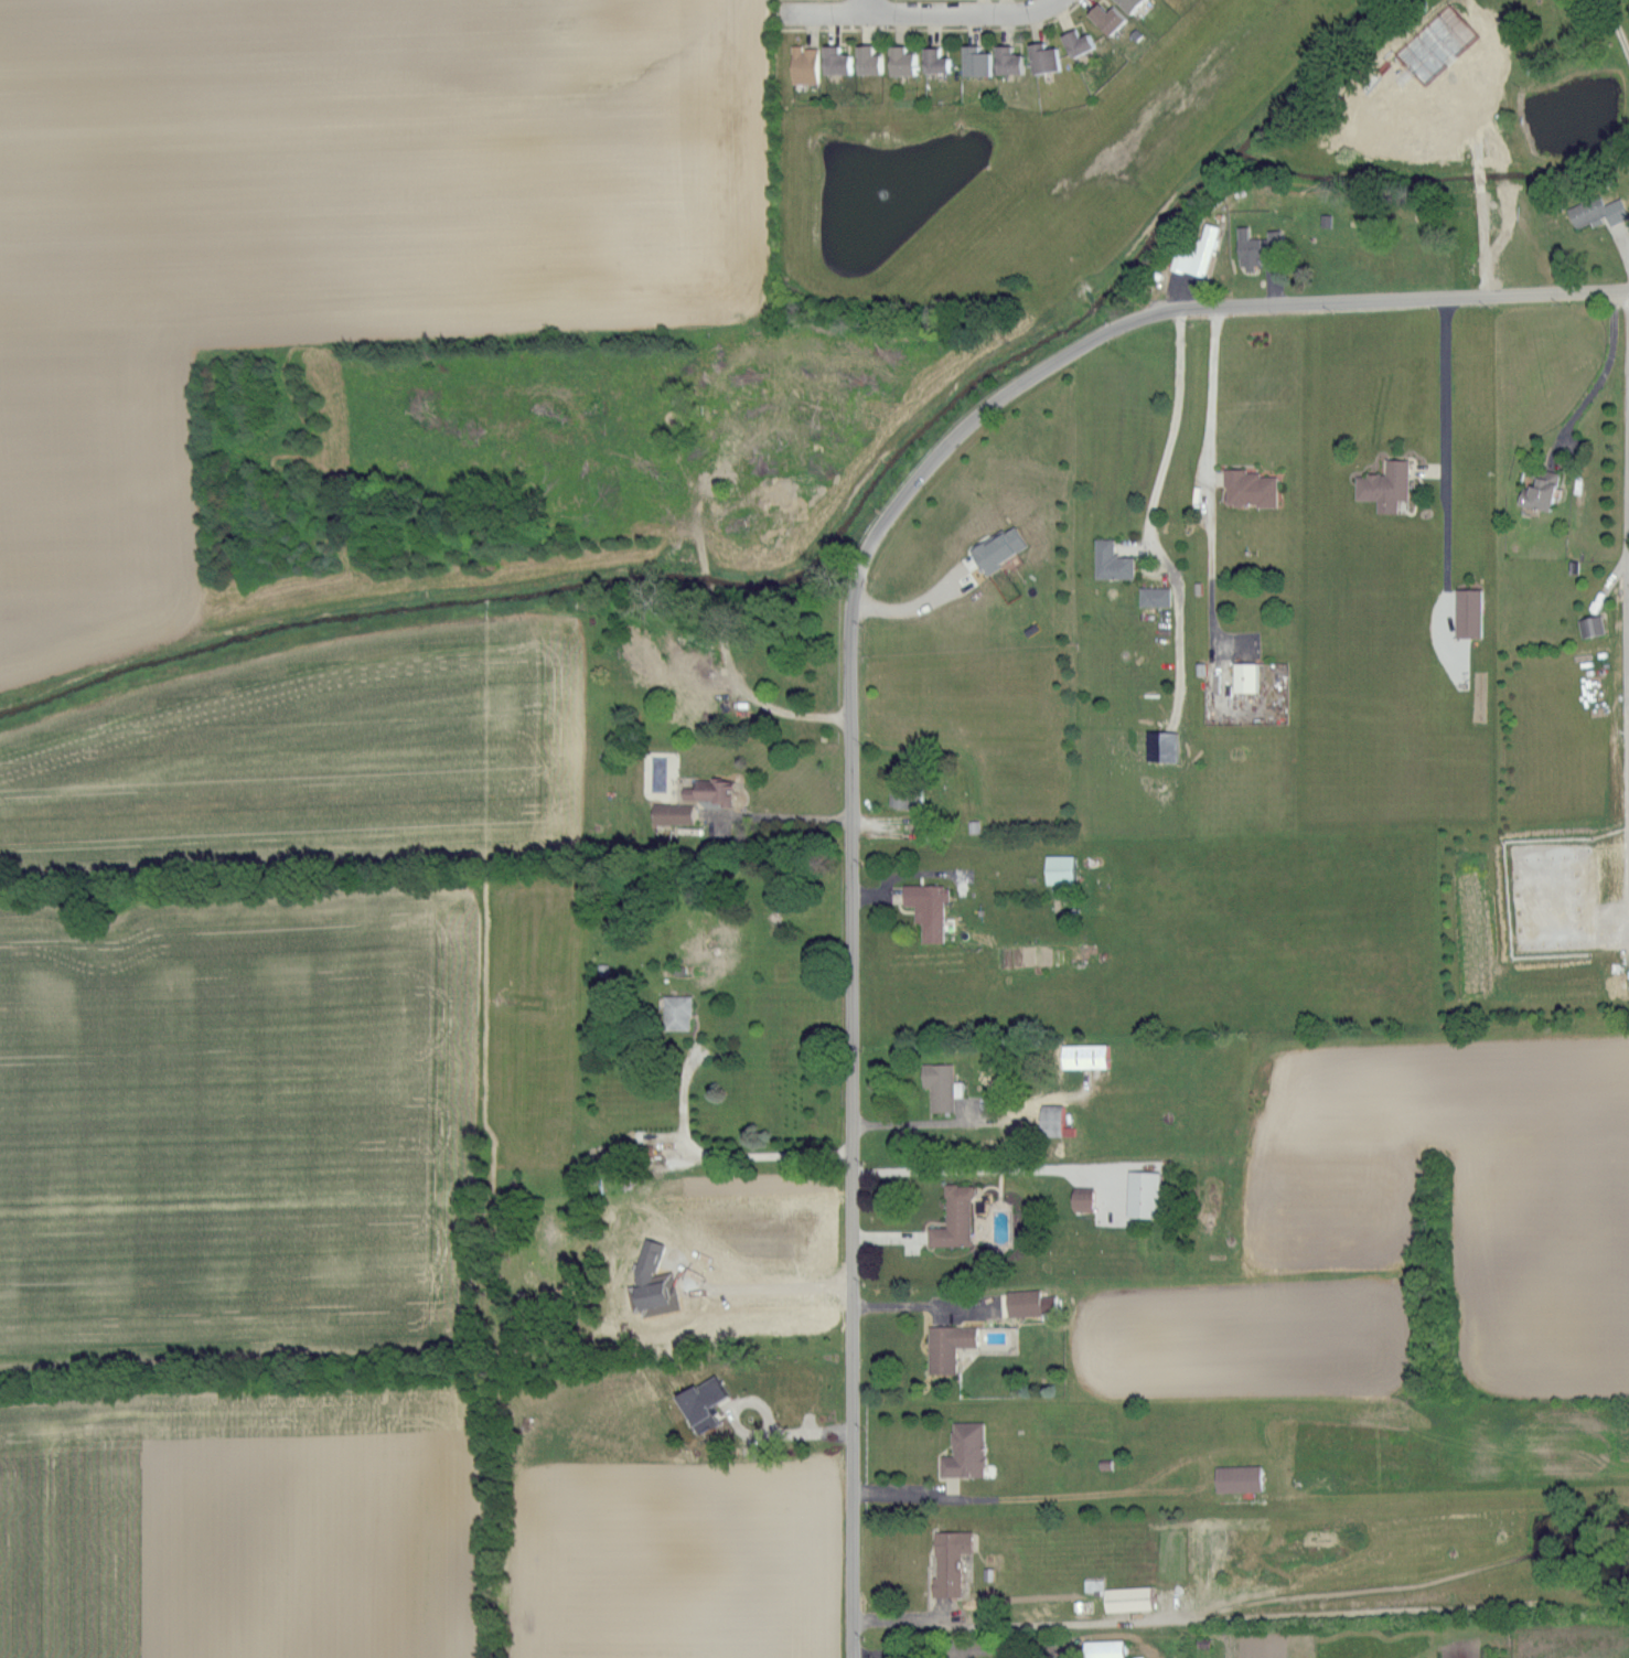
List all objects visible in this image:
building: (1125, 3)
building: (1135, 4)
road: (1050, 6)
road: (865, 7)
road: (910, 12)
building: (1112, 18)
road: (1615, 25)
road: (933, 28)
building: (1082, 43)
building: (1048, 57)
building: (872, 60)
building: (840, 61)
building: (940, 61)
building: (982, 61)
building: (907, 62)
building: (1012, 62)
building: (808, 65)
road: (1503, 120)
road: (1518, 177)
building: (1595, 211)
building: (1273, 237)
road: (1532, 243)
road: (1622, 247)
building: (1245, 248)
building: (1196, 253)
road: (1252, 307)
road: (1596, 383)
road: (1162, 470)
road: (1435, 471)
road: (1211, 475)
road: (1448, 478)
building: (1382, 485)
building: (1247, 488)
building: (1537, 490)
building: (997, 548)
building: (1110, 560)
building: (1153, 596)
road: (908, 605)
building: (1466, 613)
building: (1589, 625)
building: (1242, 675)
road: (763, 703)
building: (706, 790)
building: (897, 794)
building: (671, 812)
road: (775, 815)
crop: (321, 856)
building: (1057, 867)
building: (925, 907)
building: (675, 1010)
road: (849, 1051)
building: (1083, 1055)
building: (936, 1084)
building: (1049, 1119)
road: (940, 1122)
road: (730, 1156)
road: (985, 1168)
building: (1140, 1192)
building: (1080, 1197)
building: (952, 1217)
road: (762, 1287)
building: (1020, 1302)
road: (909, 1305)
building: (945, 1345)
building: (698, 1402)
road: (762, 1413)
building: (963, 1450)
building: (1235, 1477)
road: (924, 1496)
building: (947, 1560)
building: (1124, 1597)
road: (1007, 1626)
building: (1101, 1648)

